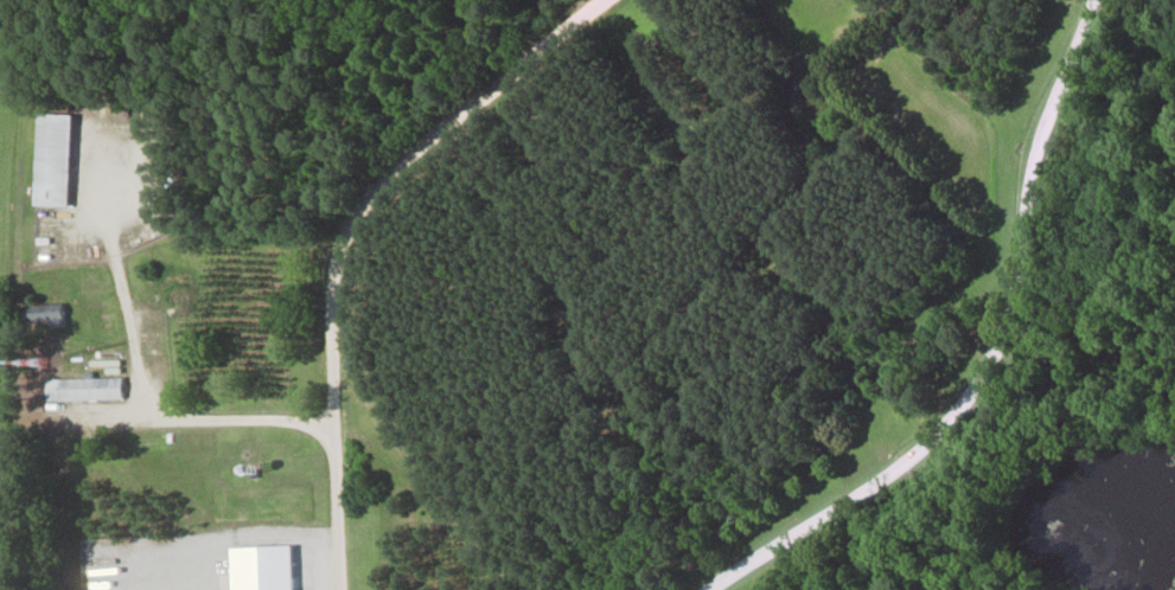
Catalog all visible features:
building: (51, 159)
road: (106, 211)
road: (343, 237)
road: (992, 355)
building: (82, 389)
road: (160, 411)

